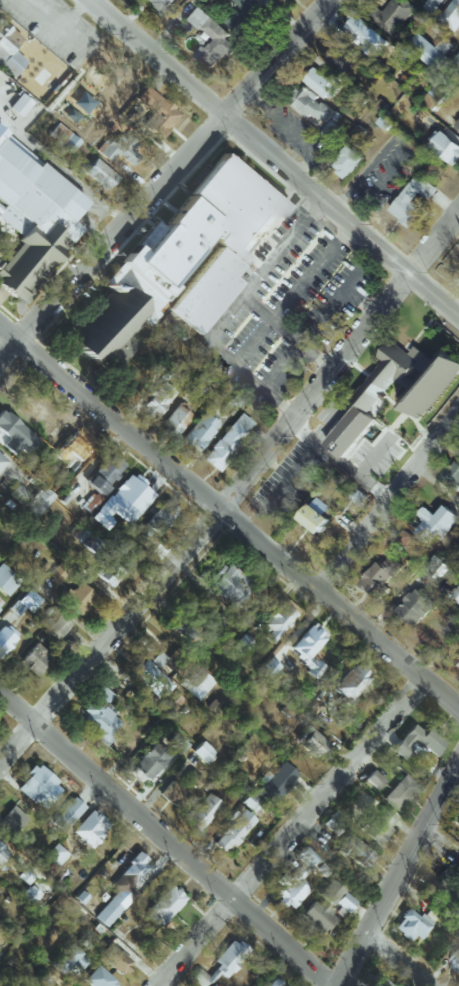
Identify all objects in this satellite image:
building: (157, 5)
building: (251, 7)
building: (391, 14)
building: (452, 15)
building: (366, 34)
building: (212, 38)
building: (9, 48)
building: (430, 50)
building: (340, 56)
building: (457, 58)
building: (322, 82)
building: (435, 95)
building: (360, 98)
building: (82, 102)
building: (19, 104)
building: (156, 111)
building: (69, 112)
building: (321, 112)
building: (457, 124)
building: (63, 137)
building: (446, 147)
building: (118, 148)
building: (348, 161)
road: (266, 167)
road: (61, 169)
building: (100, 174)
road: (163, 177)
building: (413, 199)
building: (33, 217)
road: (90, 224)
building: (224, 238)
building: (170, 247)
road: (257, 277)
road: (290, 299)
road: (318, 323)
building: (109, 327)
road: (286, 331)
road: (7, 334)
road: (254, 381)
building: (417, 399)
building: (157, 400)
road: (327, 403)
building: (176, 420)
building: (199, 431)
building: (228, 441)
building: (73, 445)
road: (374, 455)
road: (337, 458)
building: (2, 461)
road: (11, 462)
building: (104, 473)
building: (452, 474)
road: (291, 475)
road: (234, 487)
road: (386, 495)
building: (31, 498)
building: (122, 502)
building: (317, 514)
building: (157, 520)
building: (435, 522)
road: (238, 525)
building: (92, 544)
building: (125, 549)
building: (437, 566)
building: (106, 571)
building: (57, 573)
building: (382, 575)
building: (7, 580)
building: (228, 583)
building: (456, 594)
building: (77, 597)
building: (0, 601)
building: (22, 604)
building: (416, 606)
building: (277, 622)
building: (218, 623)
building: (55, 626)
building: (191, 633)
building: (6, 638)
building: (239, 643)
building: (307, 647)
building: (34, 658)
building: (458, 659)
building: (269, 668)
building: (191, 676)
building: (150, 678)
building: (351, 682)
building: (173, 700)
building: (98, 716)
building: (417, 741)
building: (311, 742)
building: (176, 743)
building: (199, 754)
building: (150, 760)
building: (373, 779)
building: (275, 781)
building: (38, 787)
building: (398, 792)
building: (173, 793)
building: (253, 804)
building: (201, 811)
building: (67, 814)
building: (11, 820)
building: (333, 823)
building: (378, 823)
building: (90, 827)
building: (233, 830)
road: (286, 834)
road: (165, 839)
building: (2, 852)
building: (356, 852)
building: (56, 854)
building: (304, 855)
building: (319, 867)
road: (394, 872)
building: (25, 876)
building: (130, 877)
building: (290, 888)
building: (435, 891)
building: (30, 894)
building: (336, 896)
building: (164, 905)
building: (108, 912)
building: (318, 917)
building: (411, 925)
building: (97, 926)
building: (453, 956)
building: (229, 957)
building: (67, 958)
building: (115, 959)
road: (387, 961)
building: (205, 977)
building: (96, 978)
building: (377, 981)
building: (274, 983)

